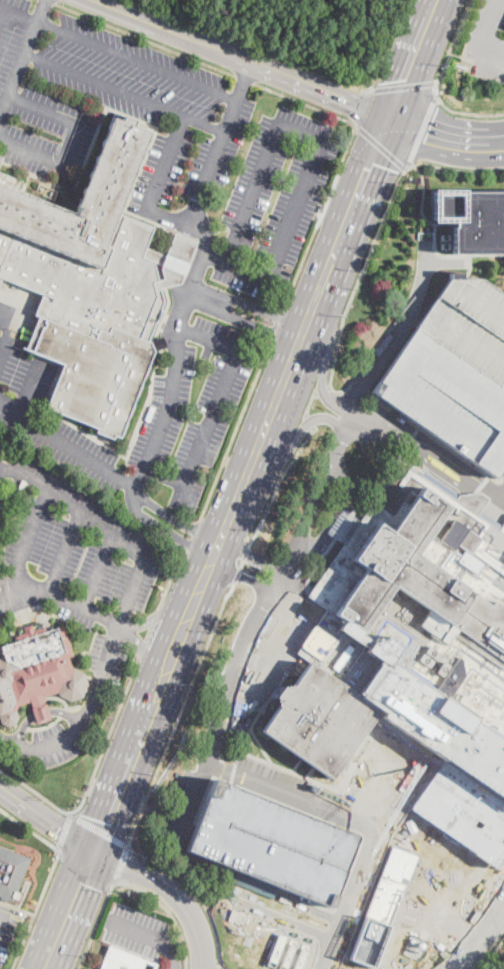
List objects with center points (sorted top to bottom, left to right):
road: (51, 2)
road: (0, 12)
road: (41, 12)
road: (135, 17)
road: (487, 33)
road: (146, 39)
parking lot: (487, 41)
road: (214, 48)
road: (385, 50)
road: (118, 55)
road: (18, 69)
road: (243, 77)
road: (244, 78)
traffic signals: (407, 78)
road: (437, 81)
road: (403, 86)
road: (320, 89)
road: (123, 94)
traffic signals: (352, 102)
road: (304, 103)
road: (358, 105)
road: (352, 121)
traffic signals: (431, 125)
road: (422, 129)
road: (447, 129)
road: (300, 133)
parking lot: (167, 137)
road: (67, 140)
road: (380, 145)
road: (441, 151)
road: (213, 159)
traffic signals: (370, 162)
road: (165, 164)
road: (453, 168)
road: (254, 195)
road: (293, 209)
road: (319, 219)
building: (472, 220)
road: (179, 222)
road: (433, 230)
road: (442, 263)
road: (234, 266)
building: (93, 283)
road: (198, 294)
road: (256, 310)
road: (251, 322)
road: (277, 326)
road: (340, 330)
road: (10, 335)
road: (207, 339)
road: (175, 363)
road: (321, 365)
building: (456, 372)
parking lot: (456, 372)
road: (323, 388)
road: (30, 389)
road: (308, 401)
parking lot: (193, 402)
road: (309, 421)
road: (266, 423)
road: (347, 425)
road: (208, 427)
road: (236, 429)
road: (413, 434)
road: (435, 436)
road: (294, 441)
road: (67, 446)
road: (430, 446)
road: (409, 462)
road: (443, 473)
road: (164, 477)
road: (501, 477)
road: (277, 482)
road: (447, 483)
road: (479, 487)
parking lot: (2, 502)
road: (348, 514)
road: (176, 521)
road: (165, 531)
road: (193, 535)
road: (21, 544)
road: (61, 552)
road: (255, 557)
road: (239, 564)
road: (95, 570)
road: (246, 580)
road: (170, 581)
parking lot: (73, 588)
road: (303, 589)
building: (426, 590)
road: (60, 596)
road: (124, 604)
road: (159, 615)
road: (146, 635)
road: (143, 651)
road: (403, 666)
building: (37, 670)
road: (268, 680)
building: (40, 710)
road: (179, 716)
building: (316, 718)
road: (216, 727)
road: (261, 747)
road: (296, 766)
road: (310, 773)
road: (311, 778)
road: (93, 779)
parking lot: (281, 785)
road: (292, 795)
road: (47, 816)
road: (345, 822)
road: (29, 828)
road: (99, 829)
road: (64, 830)
road: (183, 832)
building: (273, 844)
parking garage: (273, 844)
traffic signals: (95, 847)
road: (121, 863)
road: (87, 866)
building: (11, 873)
road: (195, 888)
road: (170, 890)
road: (348, 902)
building: (383, 904)
road: (35, 908)
road: (69, 908)
road: (167, 910)
road: (2, 912)
road: (502, 913)
road: (283, 916)
road: (2, 919)
road: (95, 925)
parking lot: (8, 928)
road: (468, 928)
parking lot: (141, 934)
road: (153, 937)
road: (482, 941)
road: (491, 953)
building: (124, 959)
road: (217, 967)
road: (222, 967)
road: (461, 967)

